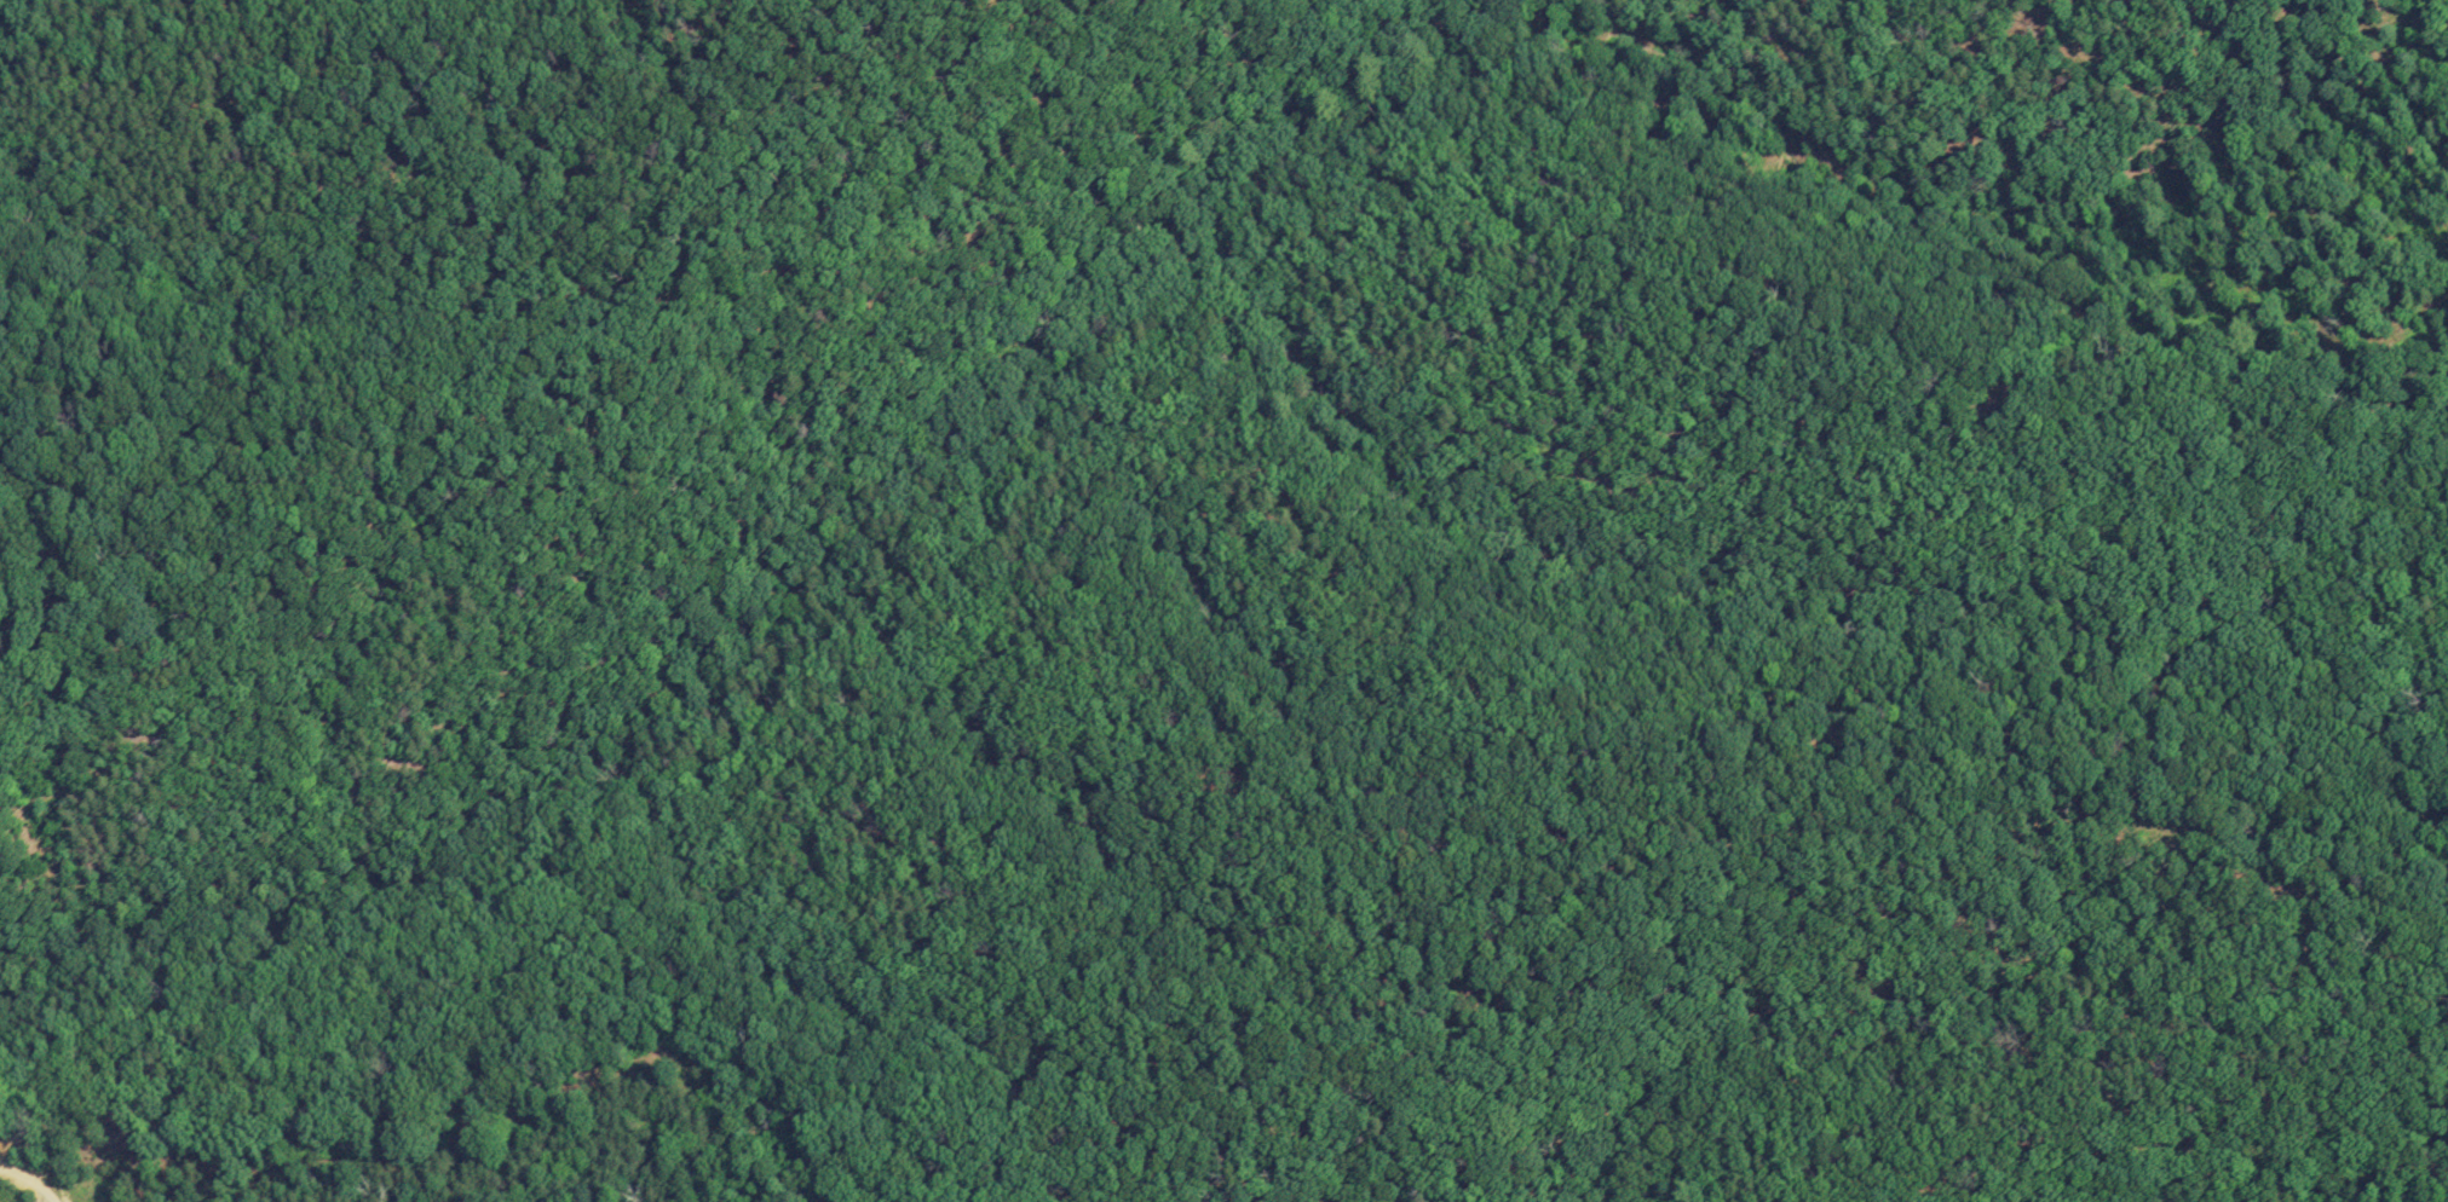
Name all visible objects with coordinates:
road: (24, 1184)

